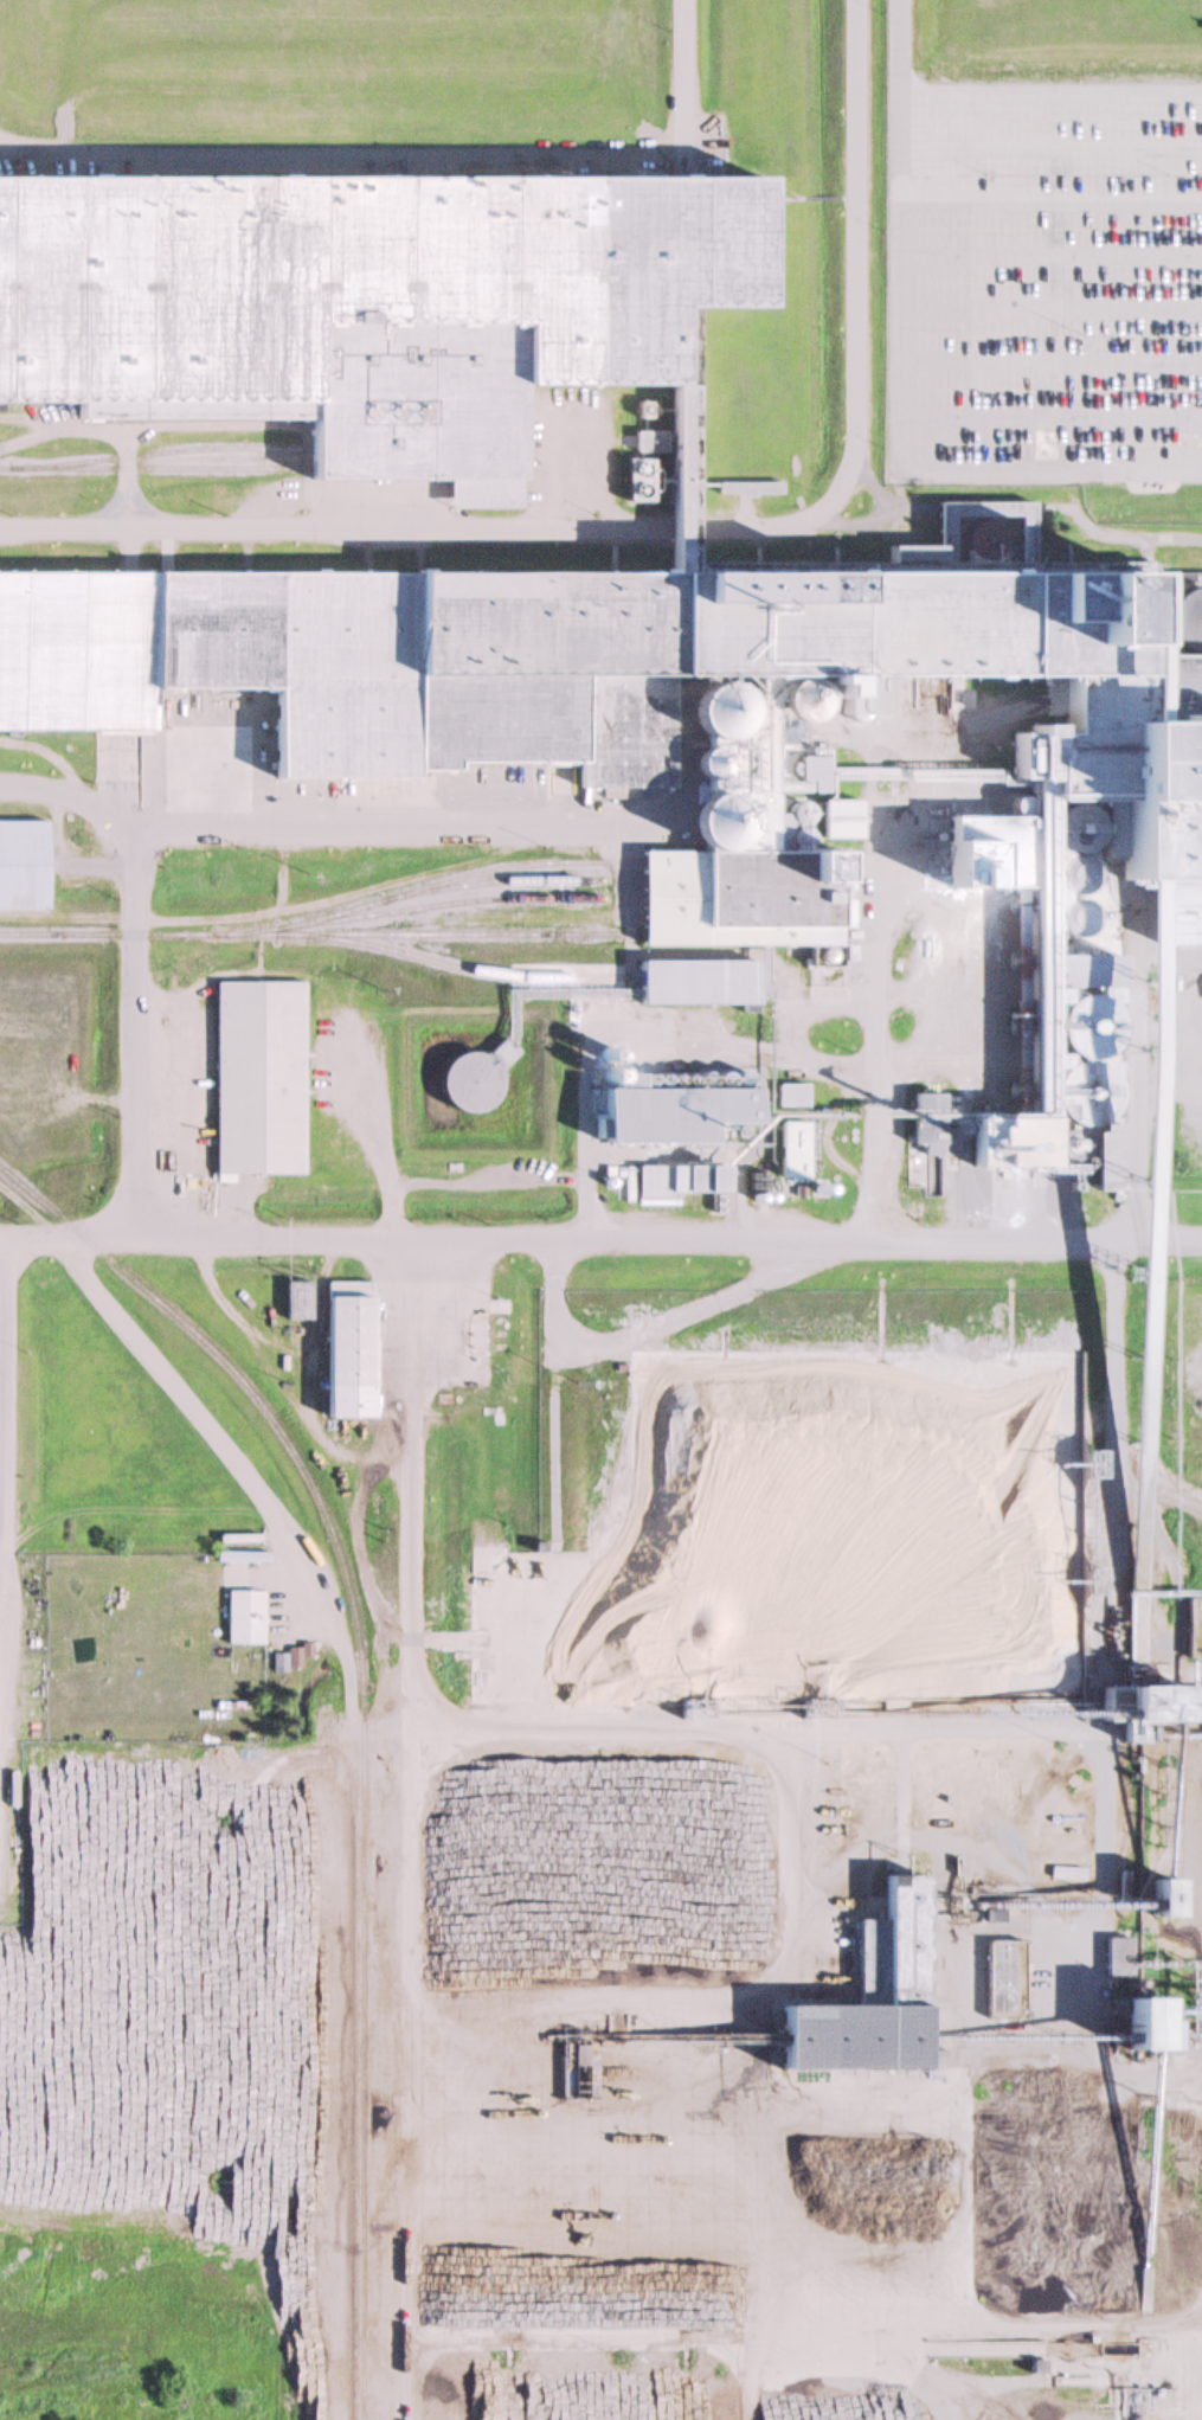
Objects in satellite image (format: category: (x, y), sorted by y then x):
road: (1053, 92)
road: (1053, 146)
road: (412, 152)
road: (957, 192)
road: (1053, 253)
building: (360, 303)
road: (1052, 309)
road: (853, 327)
road: (1052, 361)
road: (1050, 418)
road: (134, 428)
railway: (136, 452)
railway: (133, 467)
road: (573, 473)
building: (668, 473)
road: (915, 474)
road: (126, 479)
road: (669, 526)
road: (322, 527)
building: (1175, 577)
building: (553, 655)
road: (114, 771)
building: (1117, 778)
road: (372, 816)
road: (88, 864)
building: (23, 865)
railway: (496, 879)
railway: (418, 890)
building: (734, 897)
railway: (451, 901)
railway: (313, 933)
road: (130, 963)
railway: (455, 965)
building: (689, 981)
building: (1016, 996)
building: (1201, 1001)
building: (1018, 1053)
building: (252, 1078)
building: (477, 1079)
storage tank: (477, 1079)
building: (788, 1096)
building: (663, 1112)
road: (378, 1145)
building: (786, 1151)
building: (683, 1181)
road: (600, 1237)
road: (654, 1327)
building: (346, 1347)
road: (1, 1394)
road: (240, 1475)
road: (409, 1603)
building: (244, 1618)
building: (1190, 1630)
building: (1149, 1703)
railway: (361, 1723)
road: (343, 1746)
building: (1171, 1896)
building: (862, 1998)
building: (1155, 2021)
building: (1126, 2028)
building: (1145, 2292)

